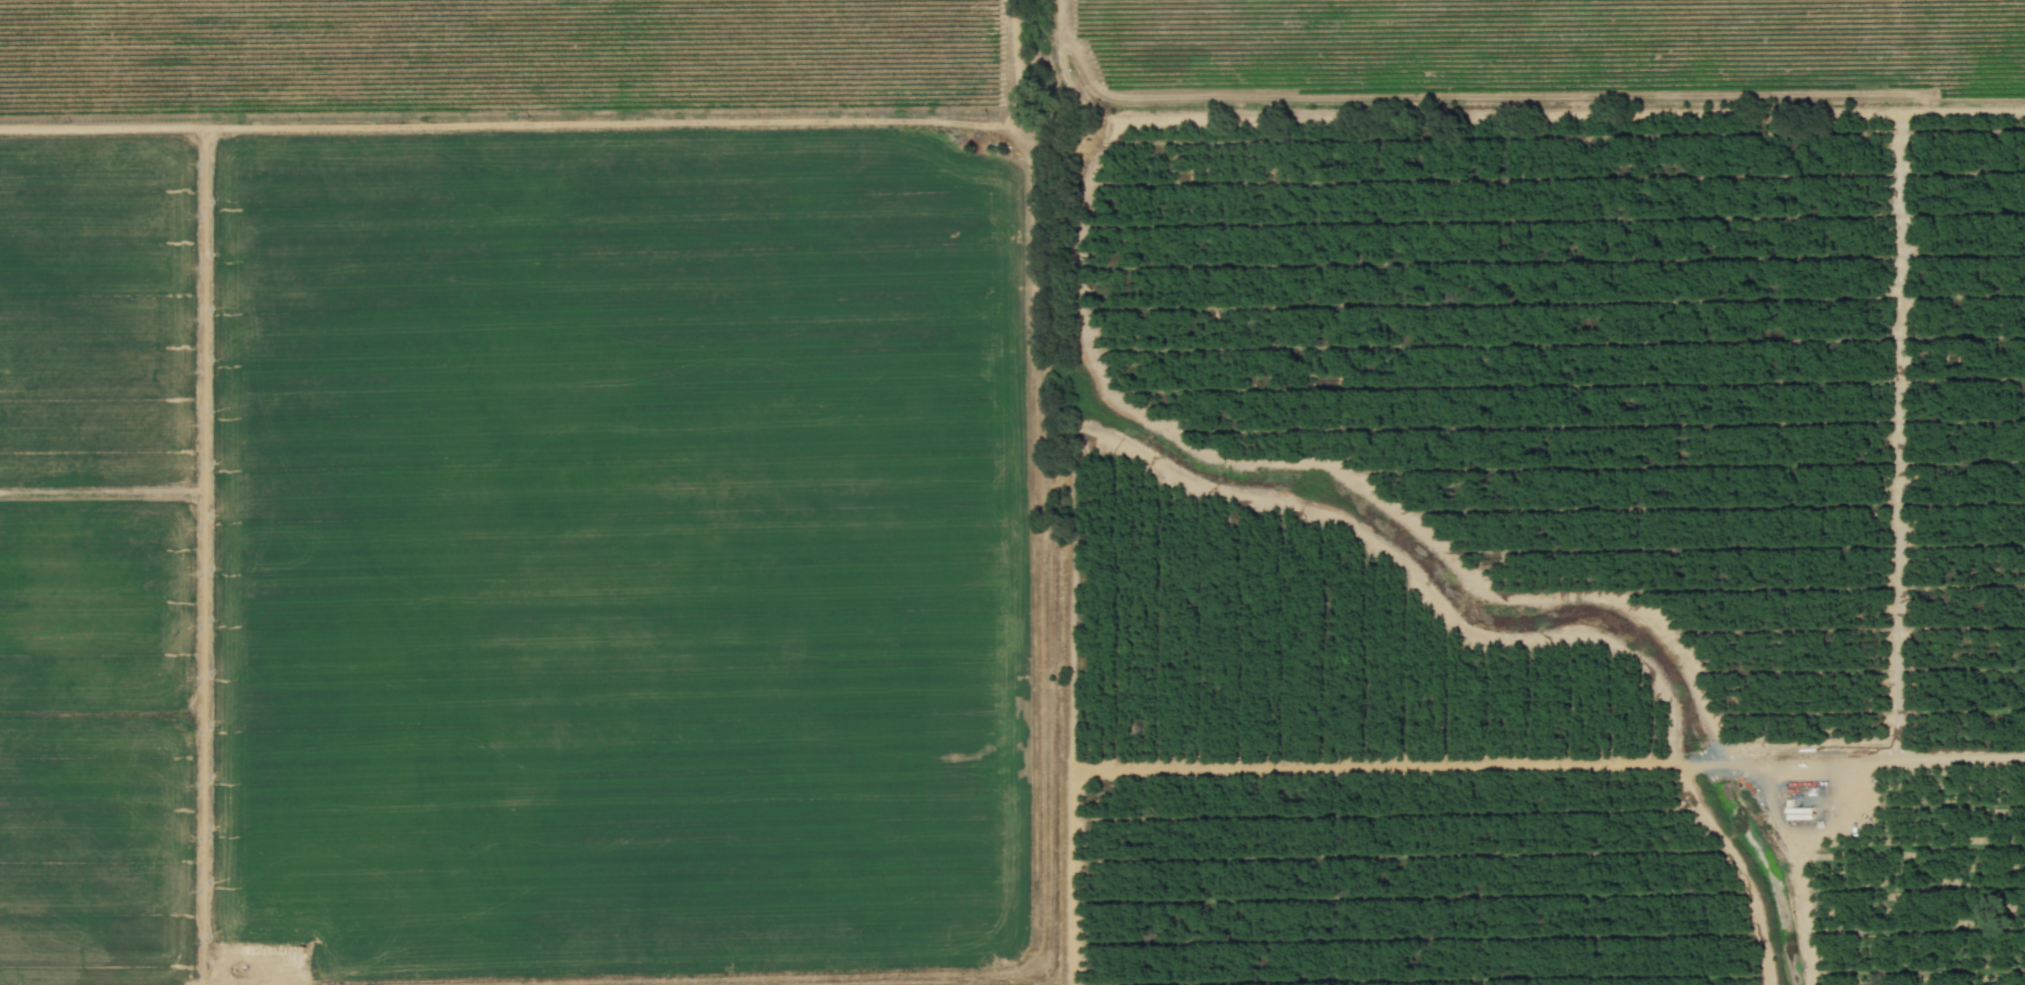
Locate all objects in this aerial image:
road: (203, 456)
road: (1893, 761)

